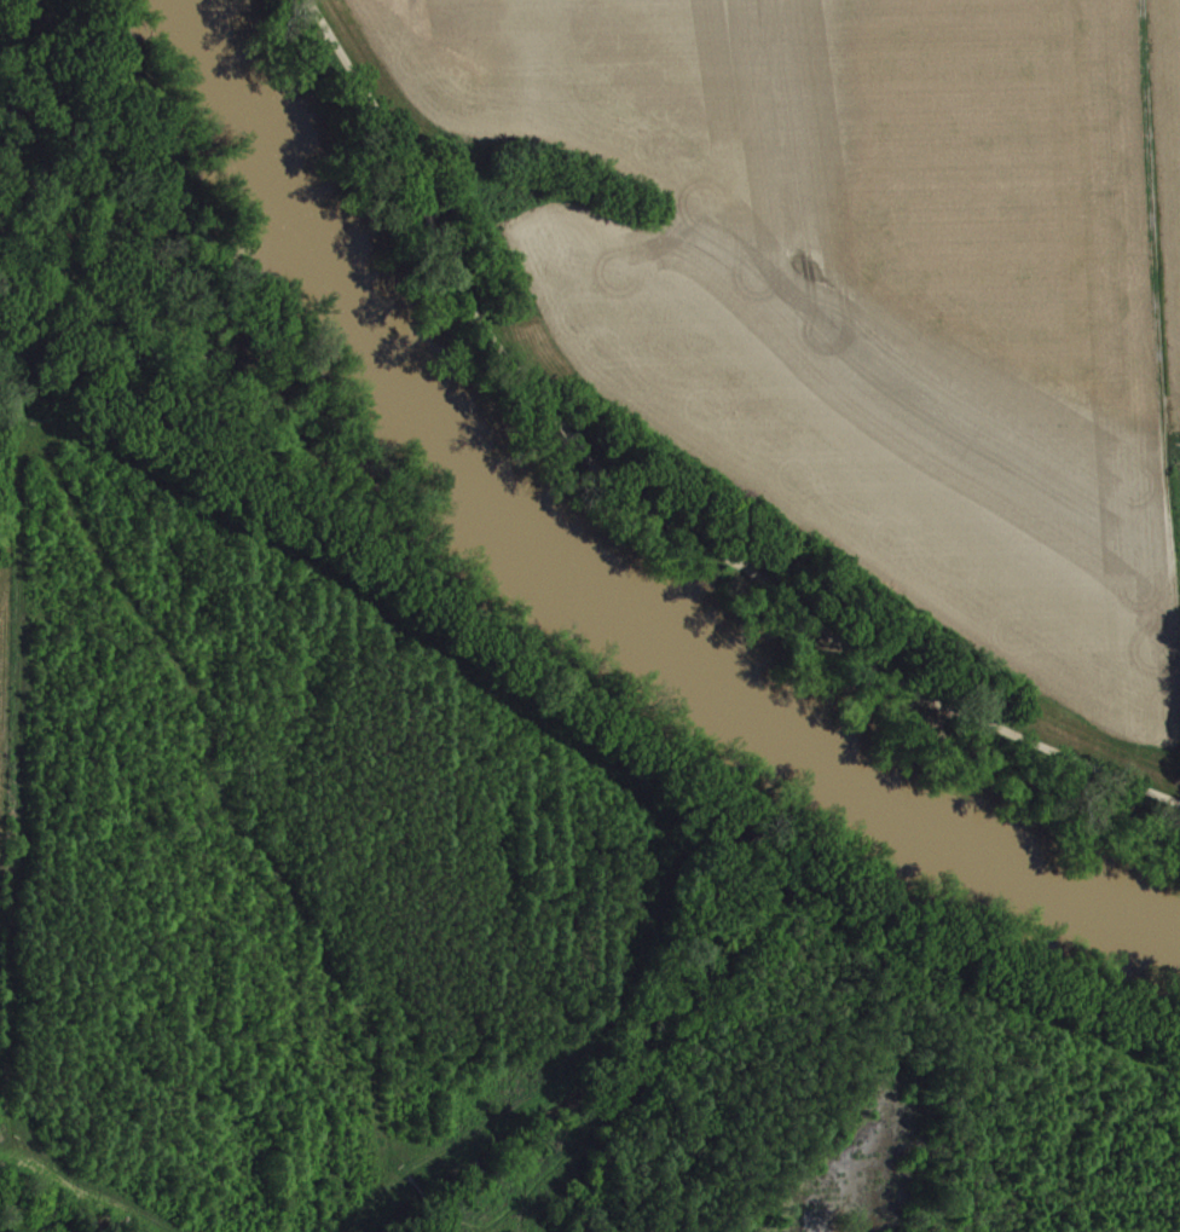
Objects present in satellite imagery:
crop: (864, 284)
road: (644, 510)
river: (571, 588)

